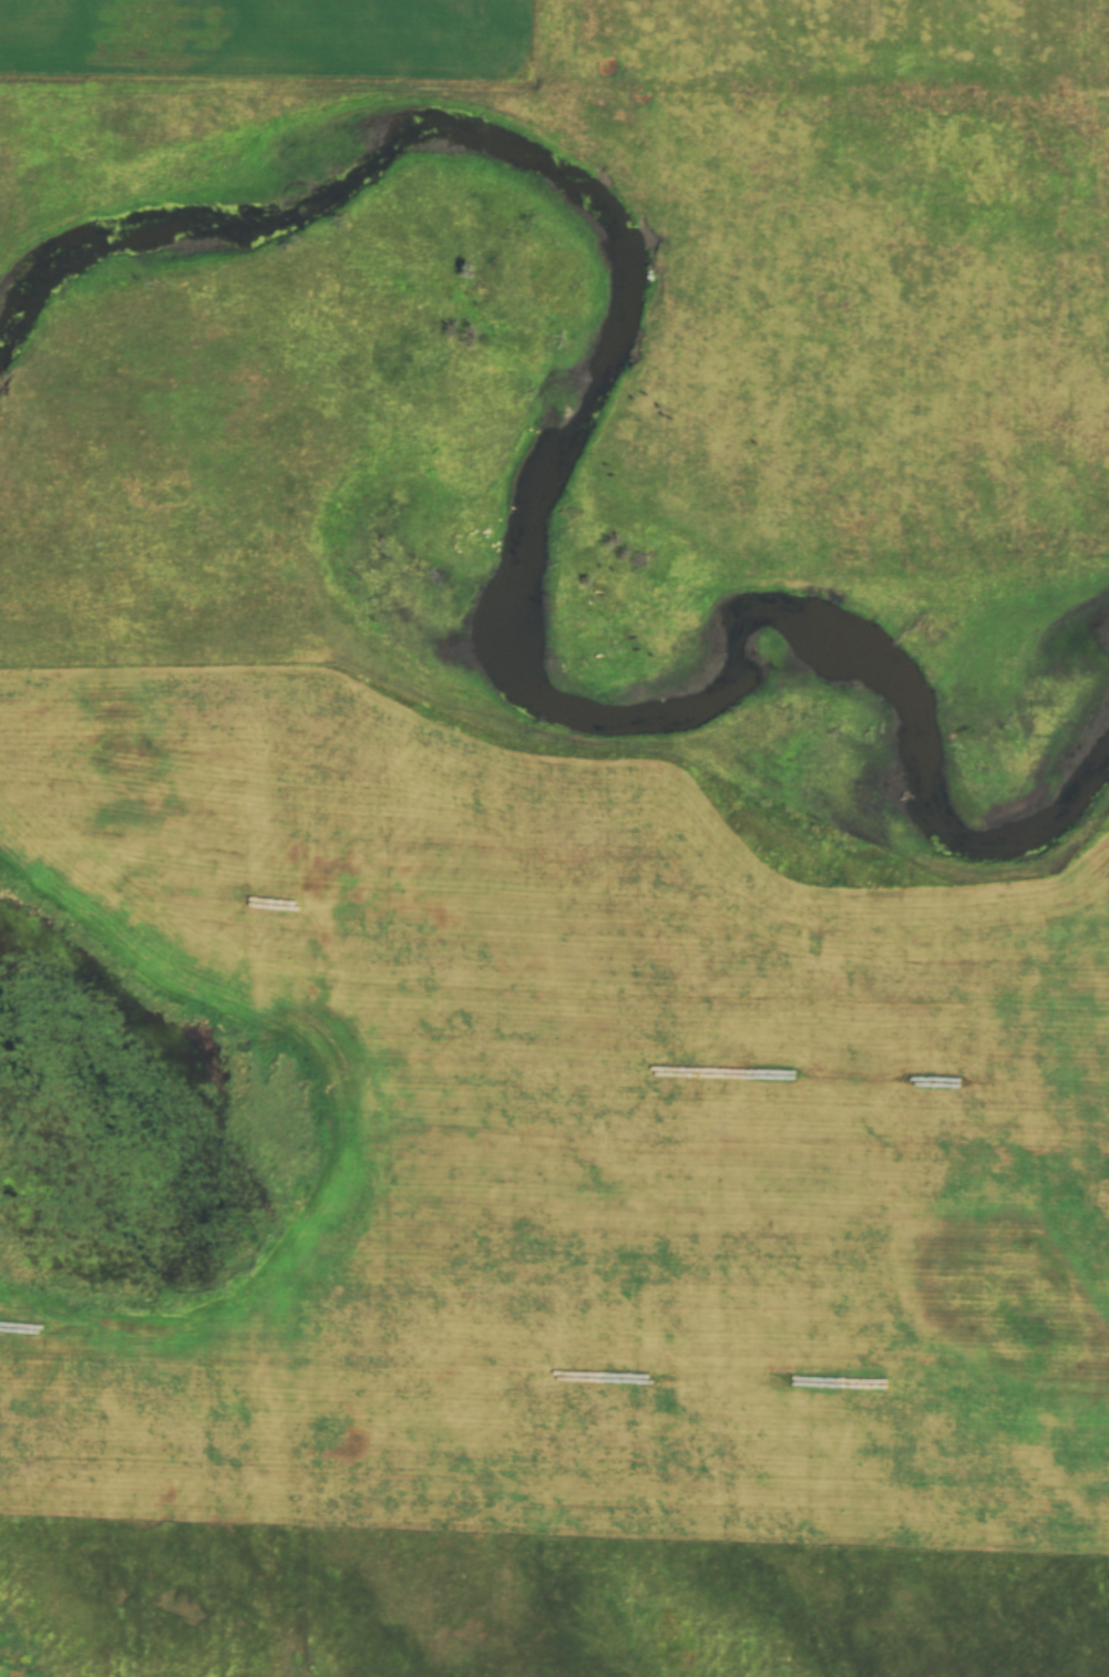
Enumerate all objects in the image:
river: (527, 498)

